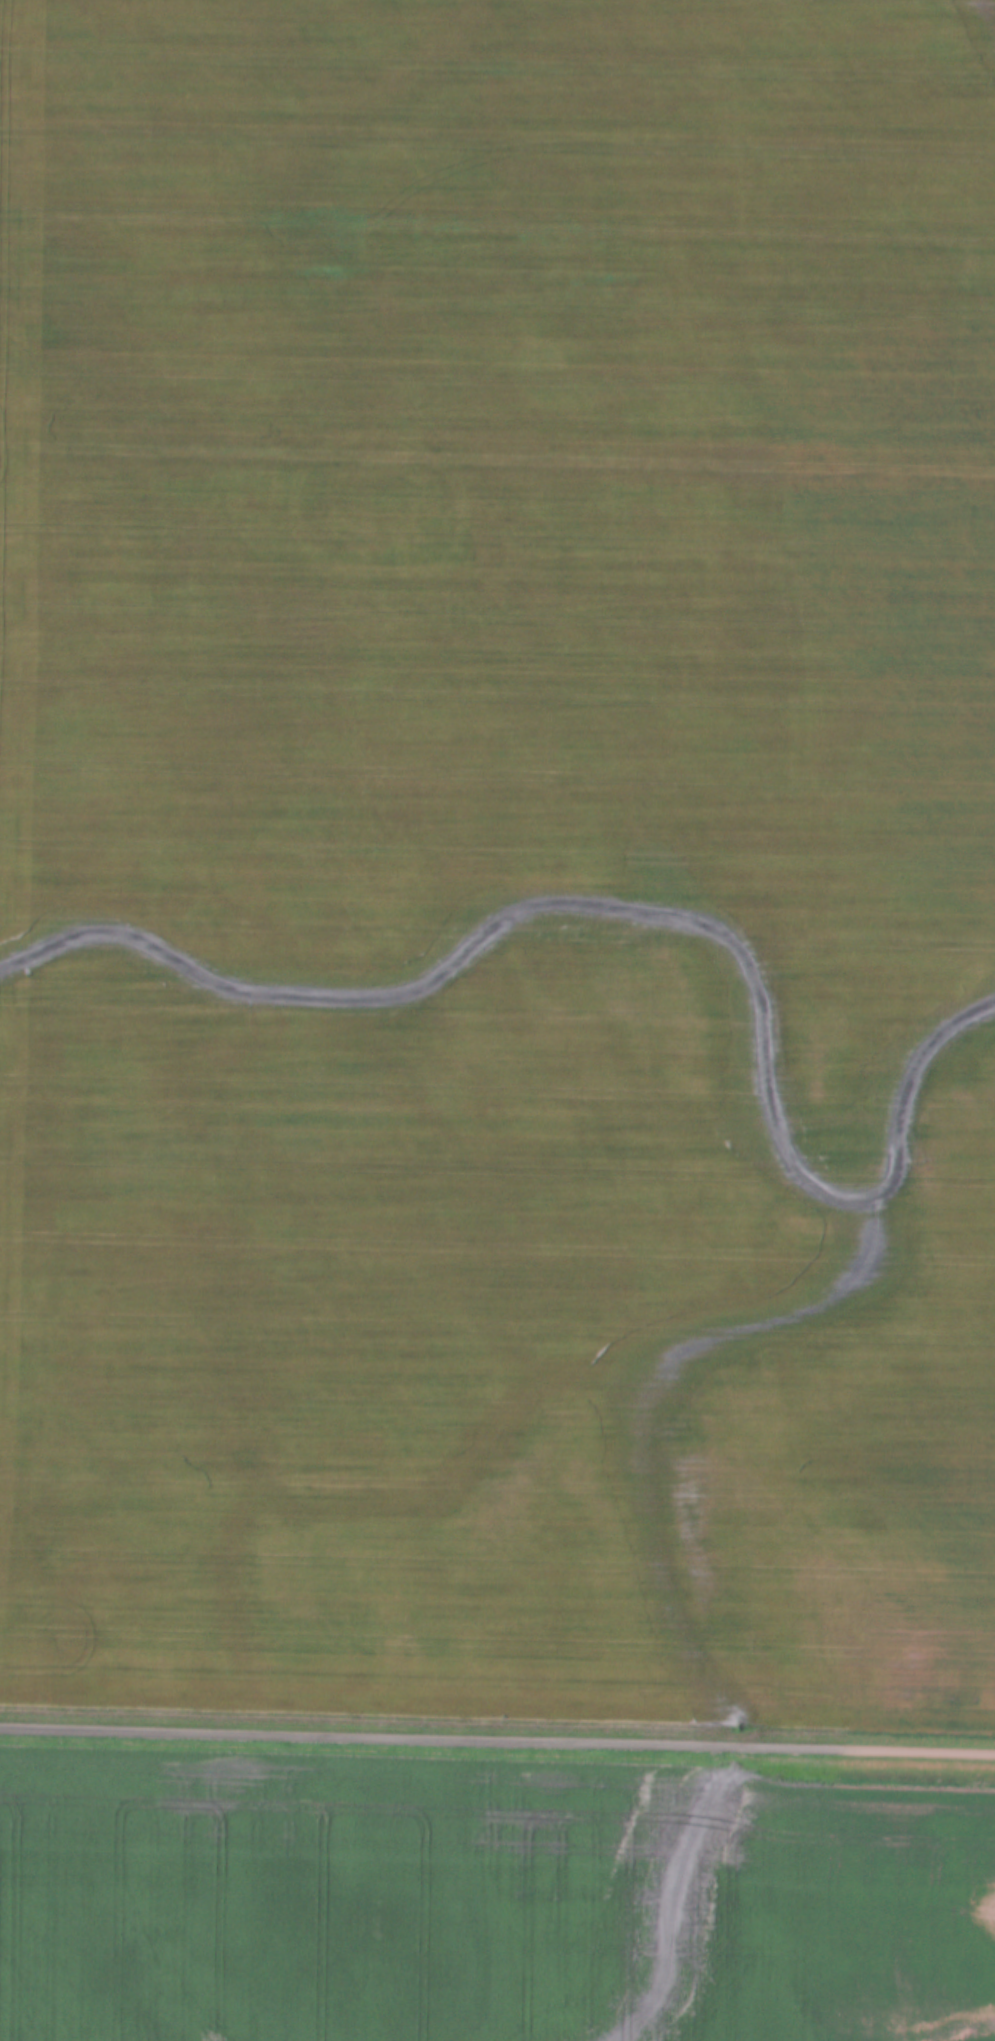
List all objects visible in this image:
road: (497, 1741)

